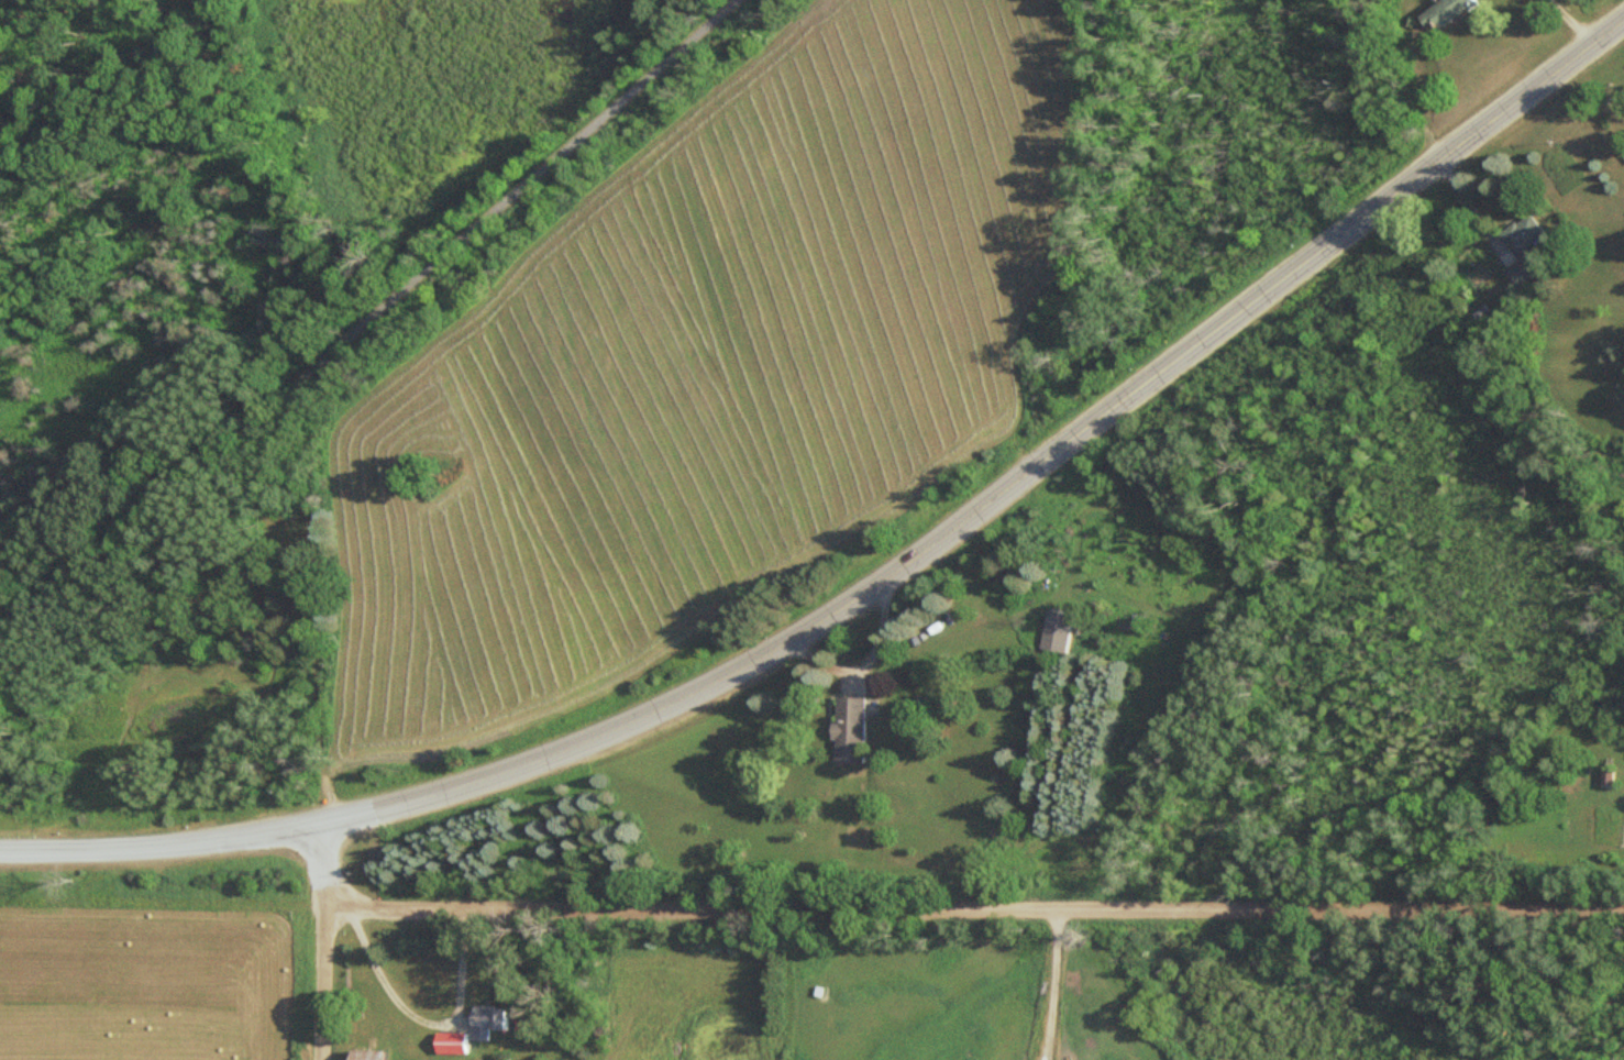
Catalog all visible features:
building: (1454, 11)
building: (1523, 250)
road: (365, 317)
road: (1003, 486)
building: (1062, 631)
building: (859, 730)
road: (156, 843)
road: (974, 907)
road: (323, 943)
building: (498, 1016)
building: (457, 1042)
building: (379, 1055)

